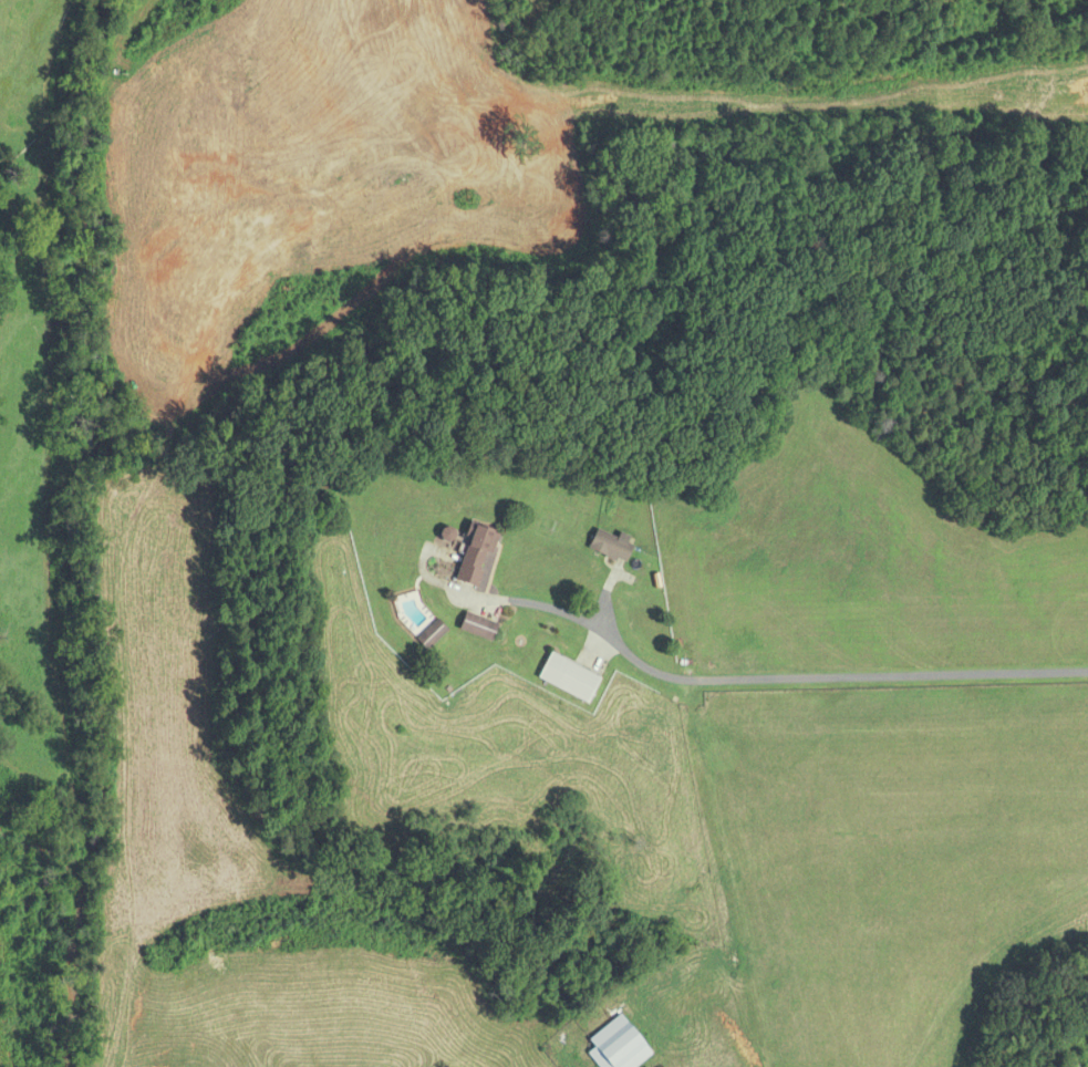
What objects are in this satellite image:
building: (612, 547)
building: (477, 557)
road: (592, 626)
building: (478, 628)
building: (432, 635)
building: (569, 678)
road: (893, 684)
road: (694, 845)
building: (619, 1046)

